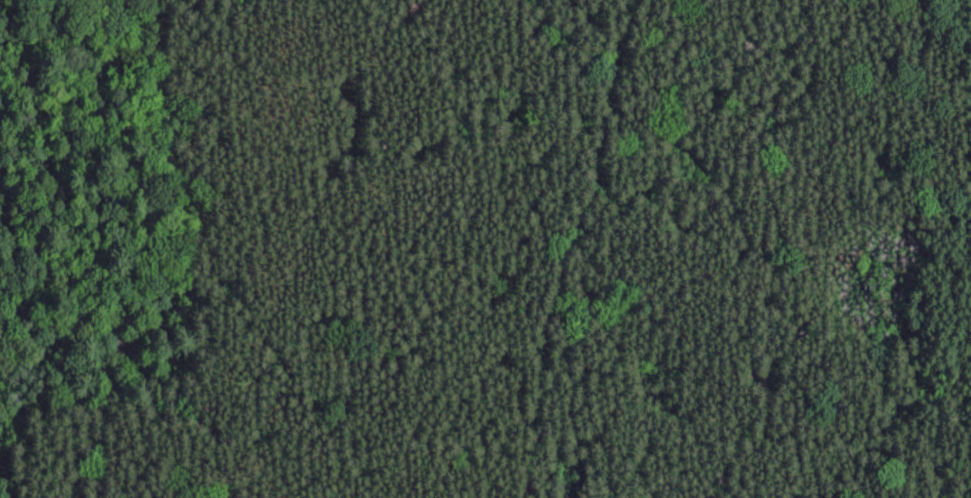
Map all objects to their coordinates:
road: (579, 248)

